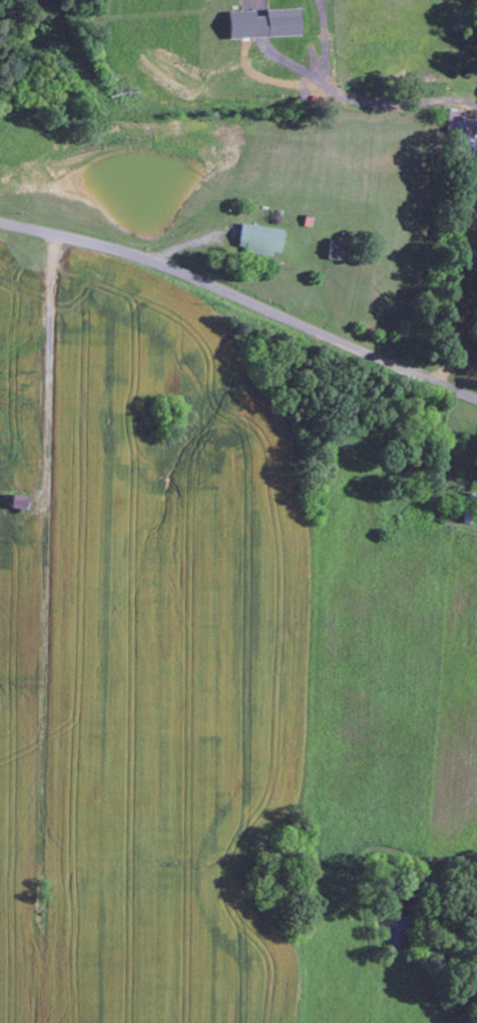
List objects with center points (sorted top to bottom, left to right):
building: (281, 23)
building: (240, 25)
building: (258, 240)
road: (241, 299)
building: (17, 503)

